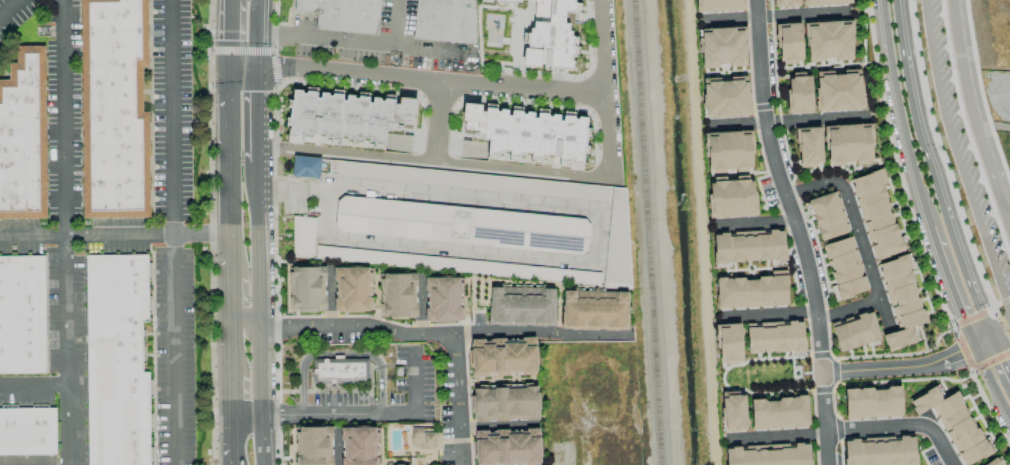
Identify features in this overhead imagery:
road: (234, 1)
building: (824, 2)
building: (785, 3)
building: (719, 5)
road: (9, 6)
building: (342, 14)
building: (444, 20)
road: (392, 23)
road: (257, 33)
building: (550, 34)
road: (232, 35)
building: (828, 40)
building: (788, 42)
road: (356, 44)
building: (723, 47)
road: (602, 48)
traffic signals: (257, 68)
traffic signals: (230, 69)
road: (417, 81)
building: (838, 90)
building: (798, 93)
building: (725, 97)
building: (113, 109)
road: (916, 113)
road: (898, 116)
road: (257, 117)
building: (346, 117)
road: (175, 118)
road: (972, 118)
road: (815, 119)
road: (438, 124)
building: (528, 133)
building: (23, 135)
road: (608, 139)
building: (847, 143)
building: (808, 146)
building: (728, 151)
road: (956, 159)
road: (434, 164)
building: (306, 167)
road: (230, 172)
flagpole: (288, 175)
building: (465, 181)
building: (731, 198)
building: (875, 214)
building: (827, 215)
road: (599, 219)
building: (461, 225)
road: (797, 231)
road: (65, 232)
railway: (645, 232)
road: (114, 236)
building: (303, 236)
building: (617, 243)
road: (859, 245)
building: (748, 246)
road: (258, 247)
building: (456, 265)
building: (844, 267)
road: (965, 283)
building: (306, 288)
road: (949, 288)
building: (351, 289)
road: (231, 290)
building: (752, 291)
building: (398, 295)
building: (443, 299)
building: (900, 301)
building: (521, 304)
building: (594, 309)
road: (773, 312)
building: (22, 314)
road: (243, 320)
road: (357, 328)
building: (855, 332)
road: (999, 332)
road: (232, 337)
road: (539, 337)
building: (774, 337)
building: (728, 342)
road: (981, 343)
road: (175, 350)
road: (342, 355)
building: (503, 357)
building: (116, 361)
road: (999, 363)
road: (899, 366)
road: (259, 370)
building: (340, 371)
road: (991, 385)
road: (33, 386)
road: (233, 389)
road: (458, 401)
building: (872, 402)
building: (505, 404)
road: (246, 411)
road: (281, 411)
road: (389, 411)
building: (733, 411)
building: (778, 413)
building: (953, 423)
building: (27, 431)
road: (848, 431)
road: (234, 438)
road: (262, 438)
building: (421, 438)
building: (312, 445)
building: (358, 446)
building: (507, 447)
building: (879, 451)
building: (768, 456)
building: (994, 462)

